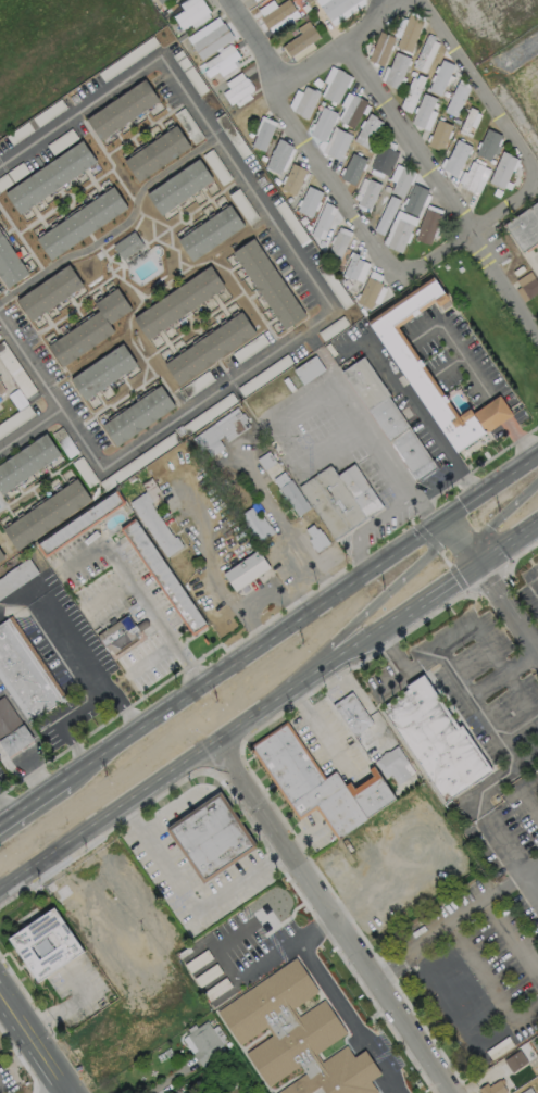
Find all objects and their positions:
building: (252, 0)
building: (161, 1)
road: (384, 3)
building: (335, 7)
building: (189, 14)
building: (276, 14)
building: (408, 34)
building: (211, 41)
building: (299, 41)
road: (338, 47)
building: (379, 49)
road: (522, 51)
building: (422, 52)
building: (220, 64)
building: (396, 71)
building: (440, 77)
road: (480, 84)
building: (336, 86)
building: (526, 90)
building: (236, 91)
building: (414, 93)
building: (455, 100)
building: (305, 102)
building: (122, 109)
building: (352, 111)
building: (422, 111)
building: (466, 121)
building: (322, 123)
building: (367, 130)
building: (439, 135)
building: (262, 136)
road: (301, 136)
building: (338, 145)
building: (487, 145)
building: (157, 153)
building: (277, 156)
building: (455, 158)
building: (383, 160)
building: (352, 168)
building: (501, 169)
building: (472, 176)
building: (49, 177)
building: (292, 179)
building: (402, 181)
building: (179, 186)
road: (441, 187)
building: (367, 193)
building: (414, 200)
building: (309, 201)
building: (387, 216)
building: (321, 219)
building: (79, 223)
building: (426, 226)
road: (470, 229)
building: (526, 230)
building: (211, 233)
building: (399, 236)
building: (127, 244)
building: (337, 247)
road: (291, 248)
building: (9, 265)
building: (352, 266)
building: (268, 284)
building: (527, 285)
building: (48, 292)
building: (368, 292)
building: (178, 302)
building: (89, 328)
building: (210, 348)
road: (465, 361)
building: (408, 362)
road: (30, 367)
building: (101, 372)
building: (1, 389)
road: (499, 409)
building: (136, 415)
road: (424, 416)
building: (387, 419)
building: (221, 429)
road: (30, 434)
road: (375, 434)
road: (520, 439)
road: (287, 442)
building: (25, 462)
road: (440, 485)
building: (289, 494)
building: (338, 500)
building: (45, 515)
road: (492, 518)
road: (370, 522)
traffic signals: (436, 522)
building: (79, 524)
building: (154, 525)
road: (281, 525)
building: (254, 526)
road: (456, 543)
building: (1, 557)
road: (478, 563)
traffic signals: (477, 565)
building: (245, 571)
building: (162, 577)
road: (293, 585)
parking lot: (530, 590)
road: (136, 592)
road: (105, 593)
road: (255, 598)
road: (505, 607)
road: (355, 615)
building: (117, 633)
road: (267, 635)
road: (456, 638)
parking lot: (468, 641)
road: (536, 650)
road: (395, 651)
road: (536, 653)
road: (148, 655)
road: (423, 659)
road: (90, 664)
road: (502, 673)
road: (505, 673)
building: (25, 675)
parking lot: (376, 678)
road: (388, 681)
road: (478, 708)
parking lot: (517, 711)
parking lot: (466, 715)
road: (67, 720)
building: (356, 725)
building: (11, 730)
building: (438, 742)
road: (210, 746)
road: (29, 756)
building: (396, 768)
parking lot: (537, 769)
road: (498, 781)
building: (322, 787)
road: (527, 801)
road: (2, 812)
road: (51, 816)
parking lot: (508, 827)
building: (213, 840)
road: (511, 853)
road: (531, 868)
parking lot: (463, 895)
road: (189, 905)
road: (468, 909)
road: (333, 917)
parking lot: (245, 939)
road: (511, 939)
building: (45, 945)
building: (215, 956)
road: (392, 962)
parking lot: (484, 969)
road: (480, 972)
road: (234, 977)
road: (445, 995)
road: (337, 1000)
road: (72, 1004)
road: (508, 1022)
parking lot: (523, 1029)
building: (295, 1037)
road: (34, 1041)
building: (202, 1043)
parking lot: (384, 1053)
parking lot: (7, 1079)
road: (166, 1080)
building: (491, 1088)
building: (193, 1092)

